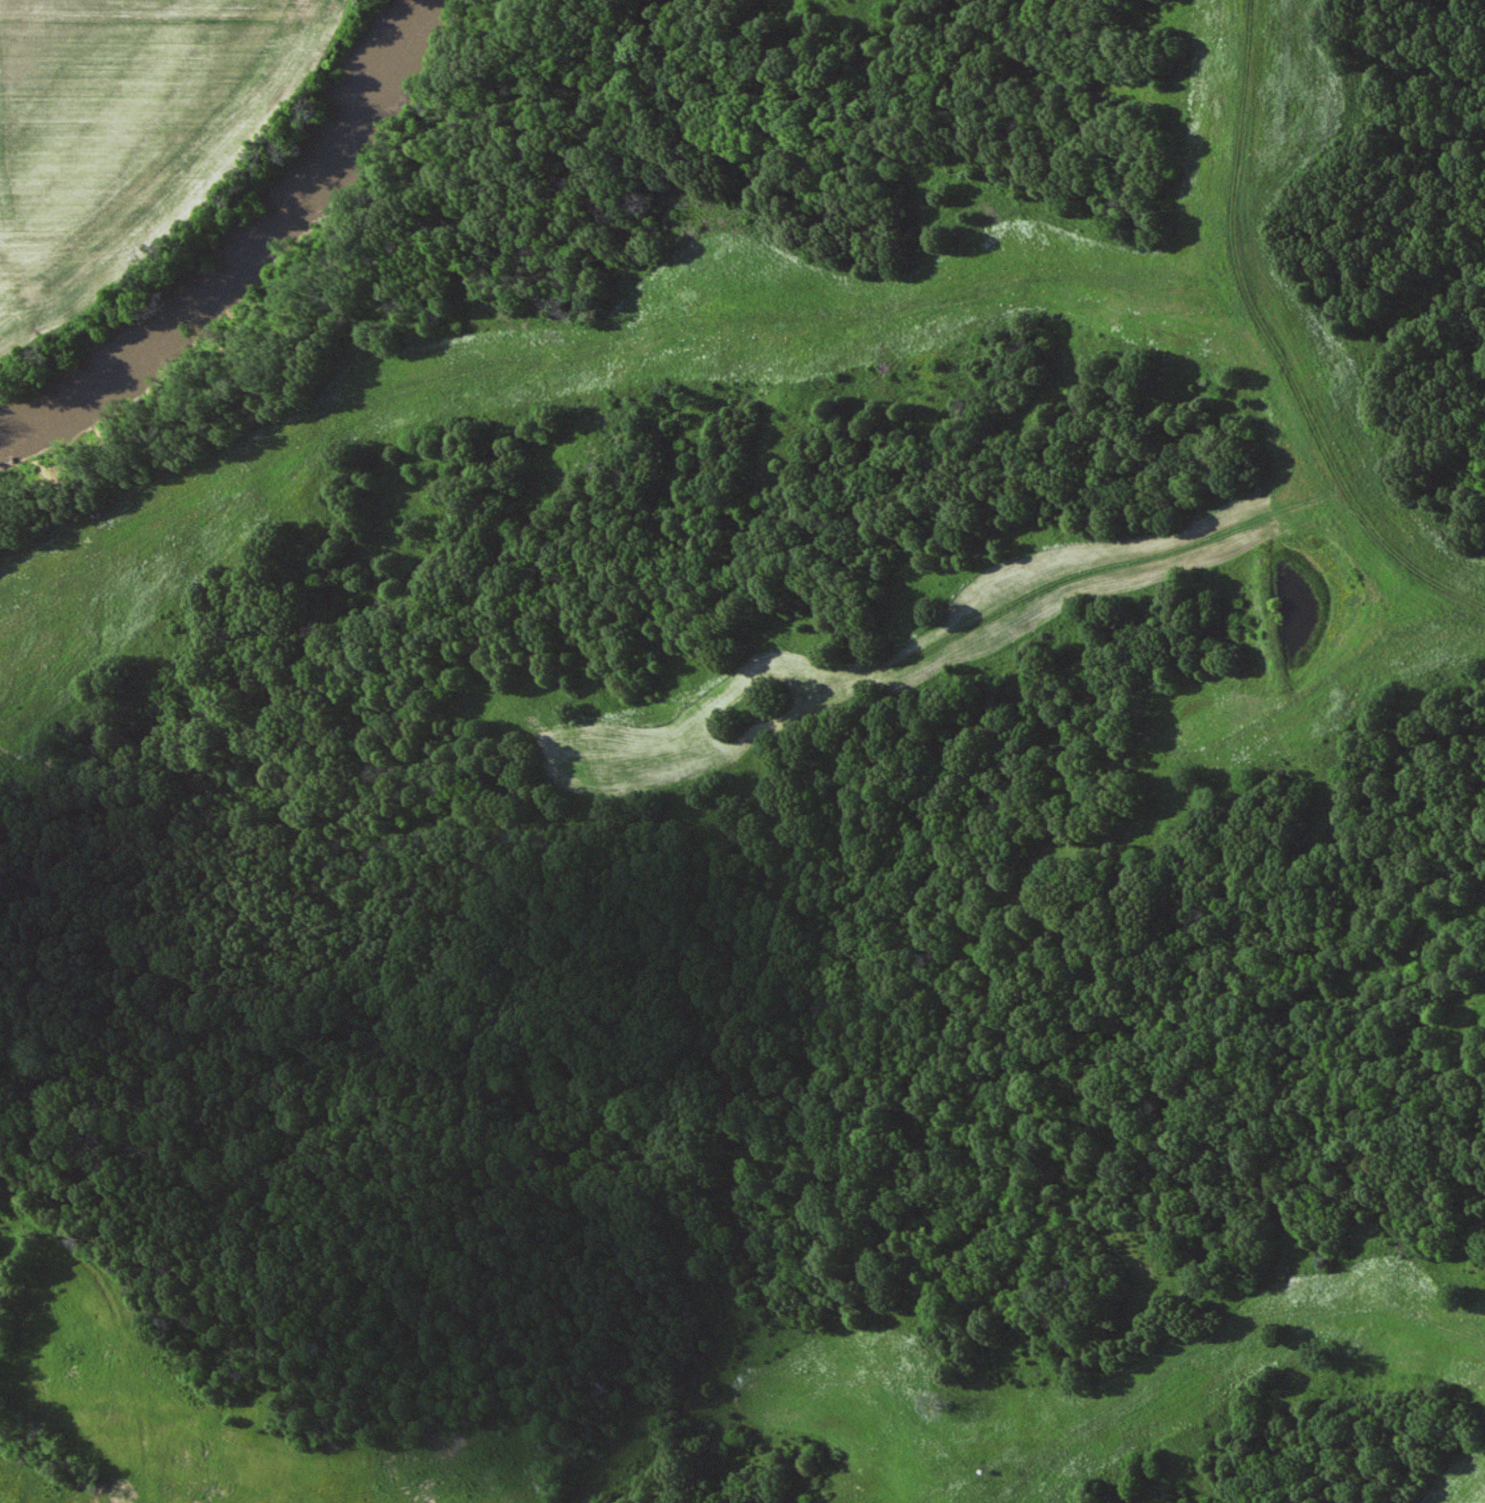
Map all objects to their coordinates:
river: (252, 248)

